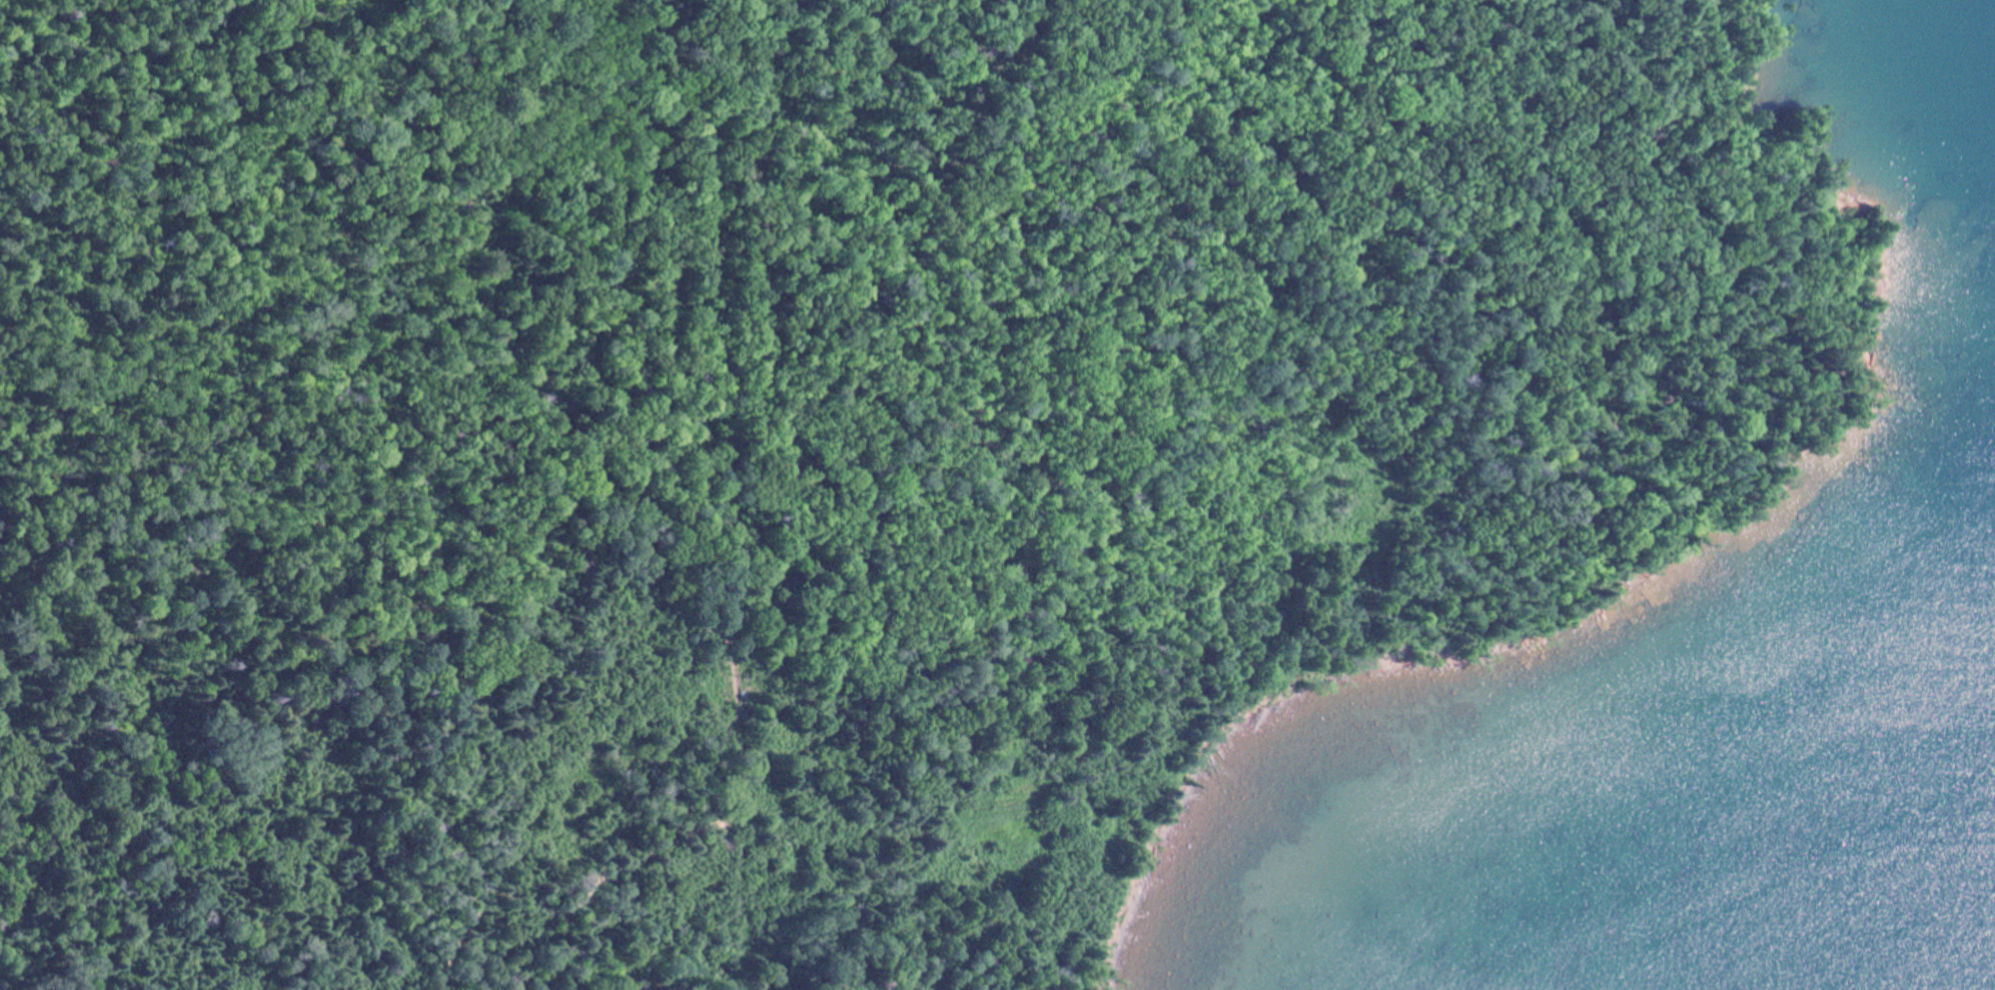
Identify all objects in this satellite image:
road: (728, 492)
road: (369, 807)

